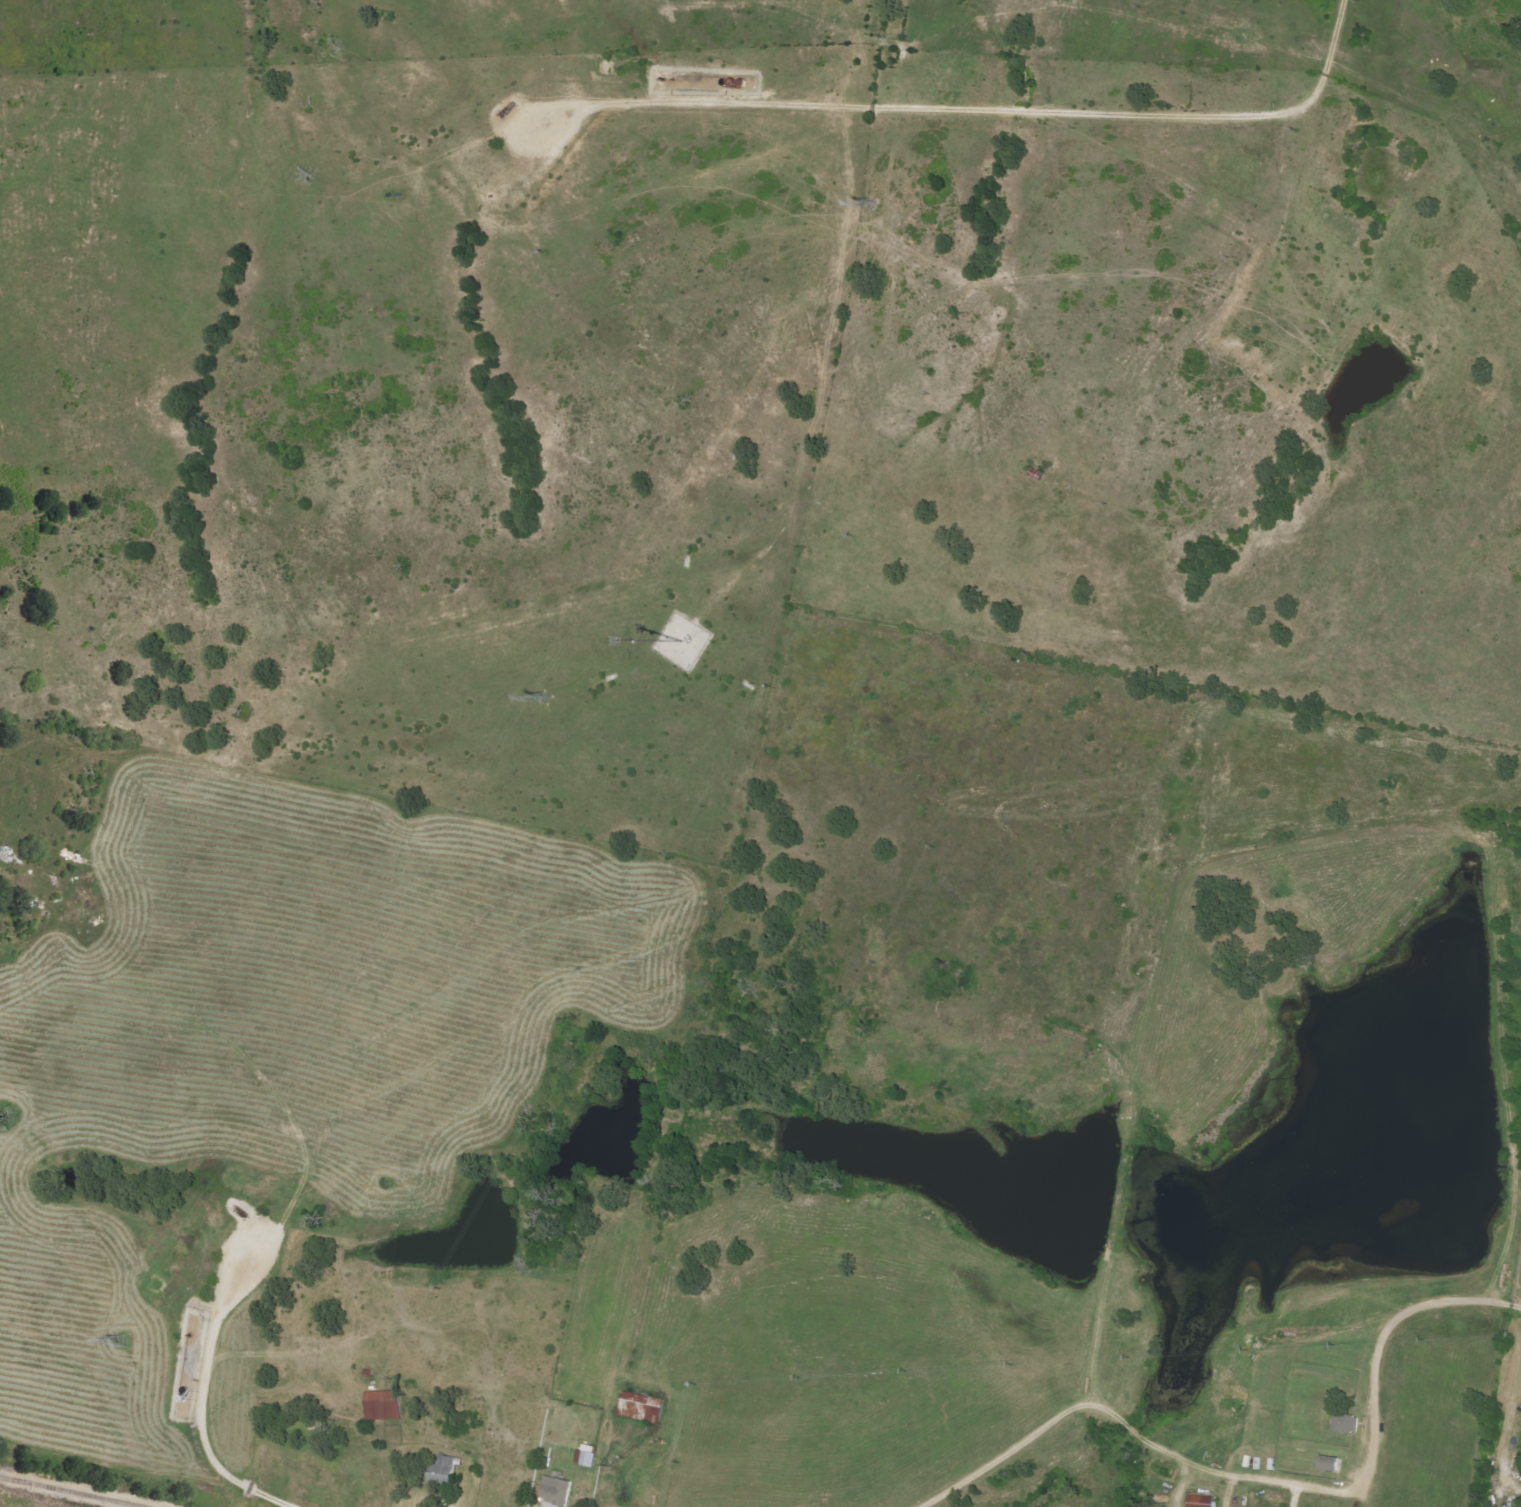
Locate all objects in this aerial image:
petroleum well: (501, 110)
road: (1007, 113)
power tower: (868, 204)
power tower: (544, 699)
road: (1514, 1307)
power tower: (121, 1341)
building: (384, 1406)
building: (642, 1408)
building: (1344, 1424)
building: (588, 1456)
building: (1332, 1464)
building: (447, 1469)
road: (291, 1473)
road: (1254, 1478)
railway: (8, 1479)
railway: (8, 1479)
railway: (81, 1493)
road: (1292, 1495)
building: (1202, 1501)

